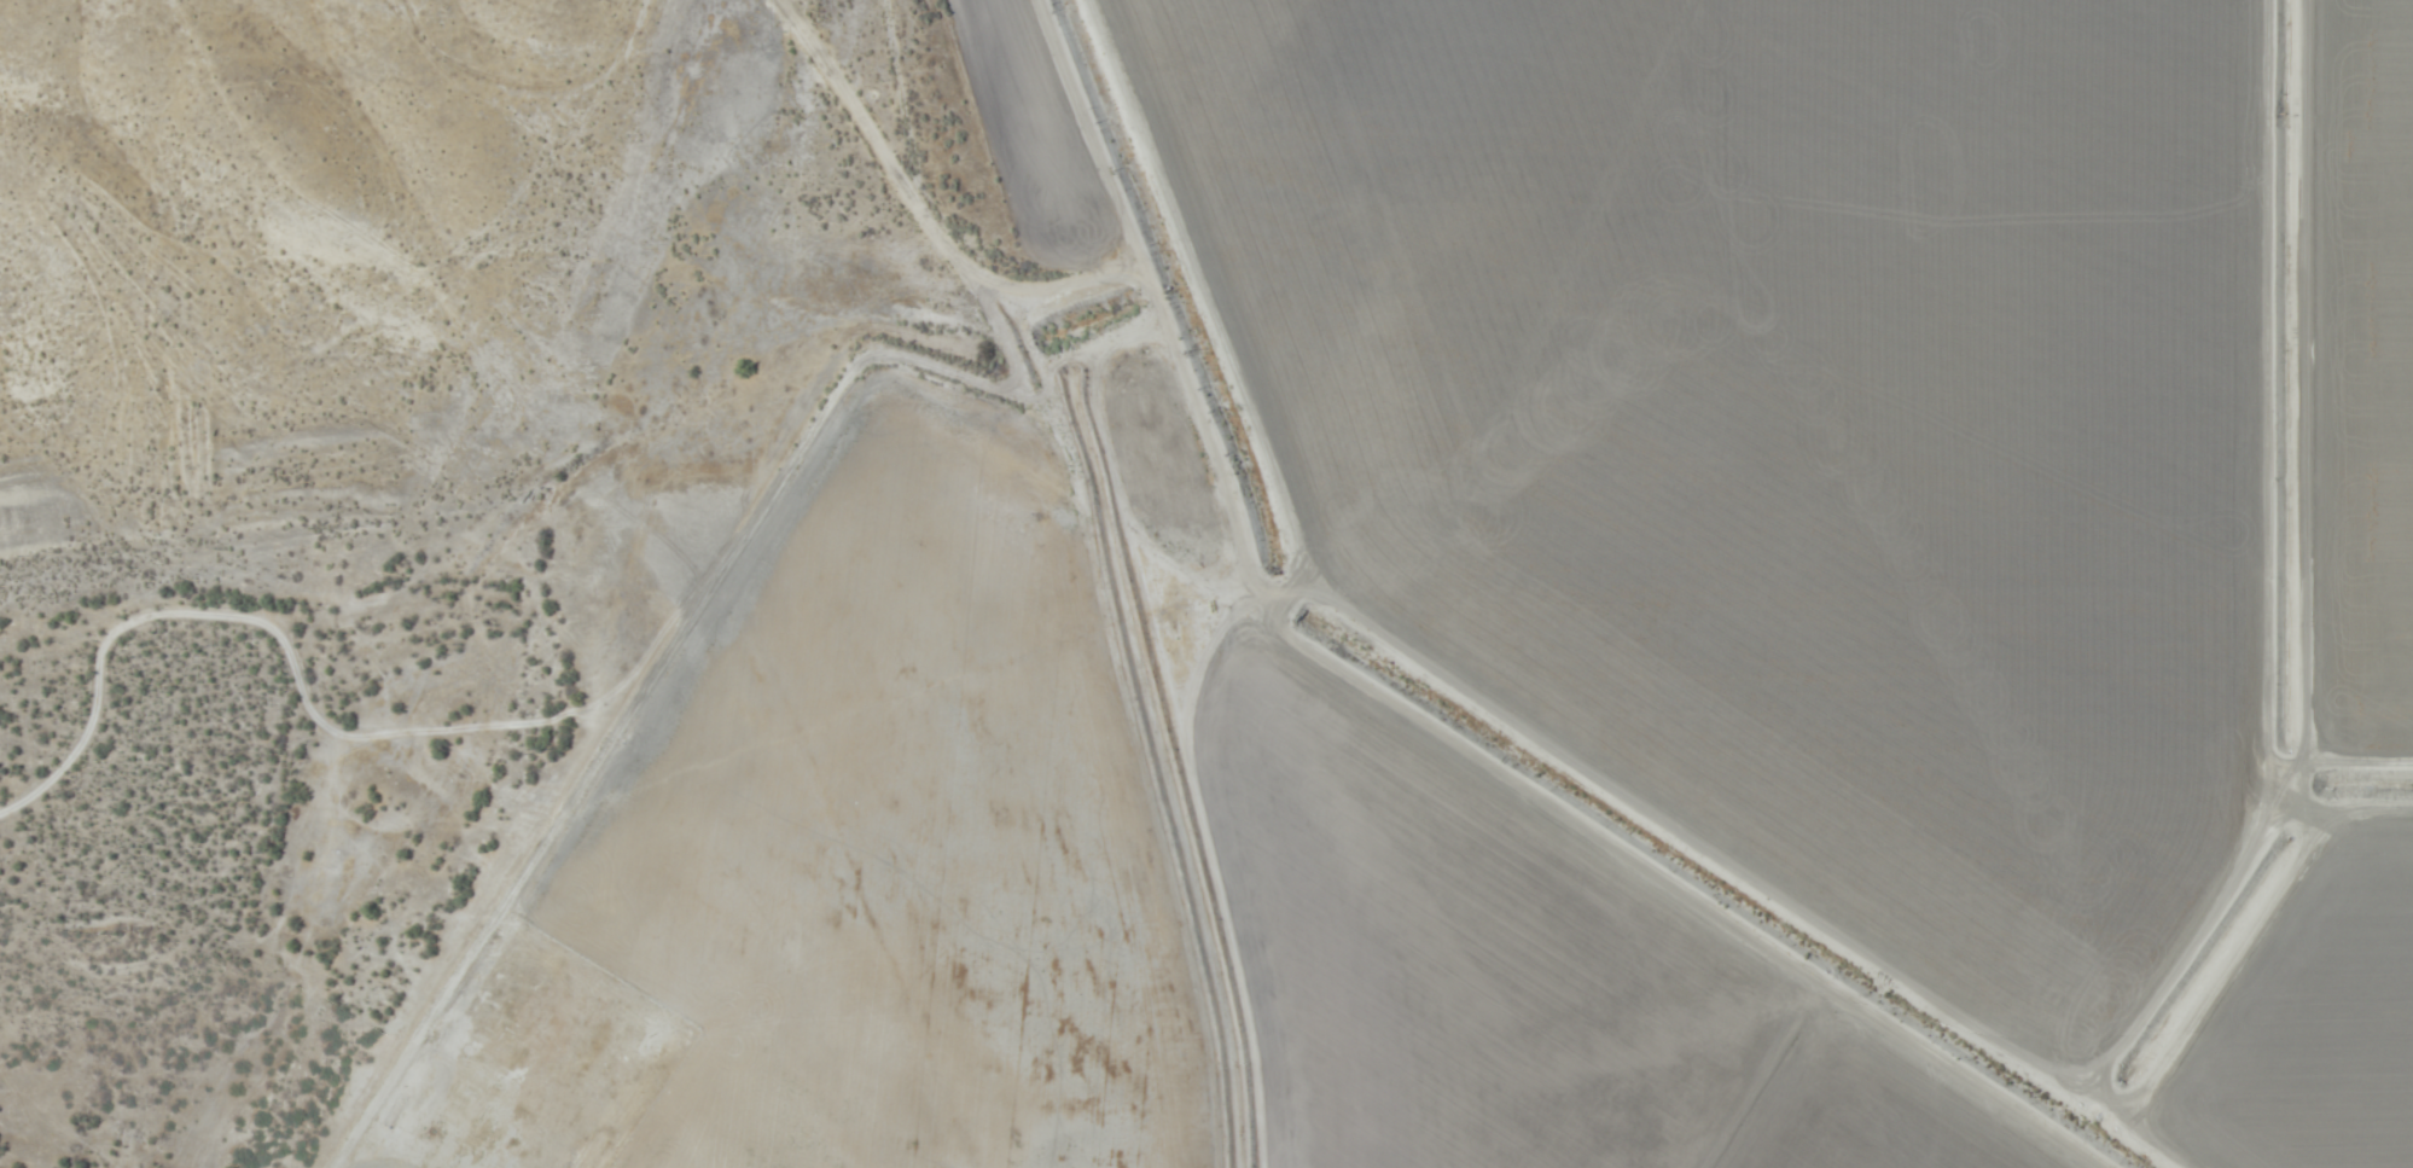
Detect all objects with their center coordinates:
road: (399, 338)
road: (2250, 492)
crop: (1853, 501)
road: (1106, 576)

